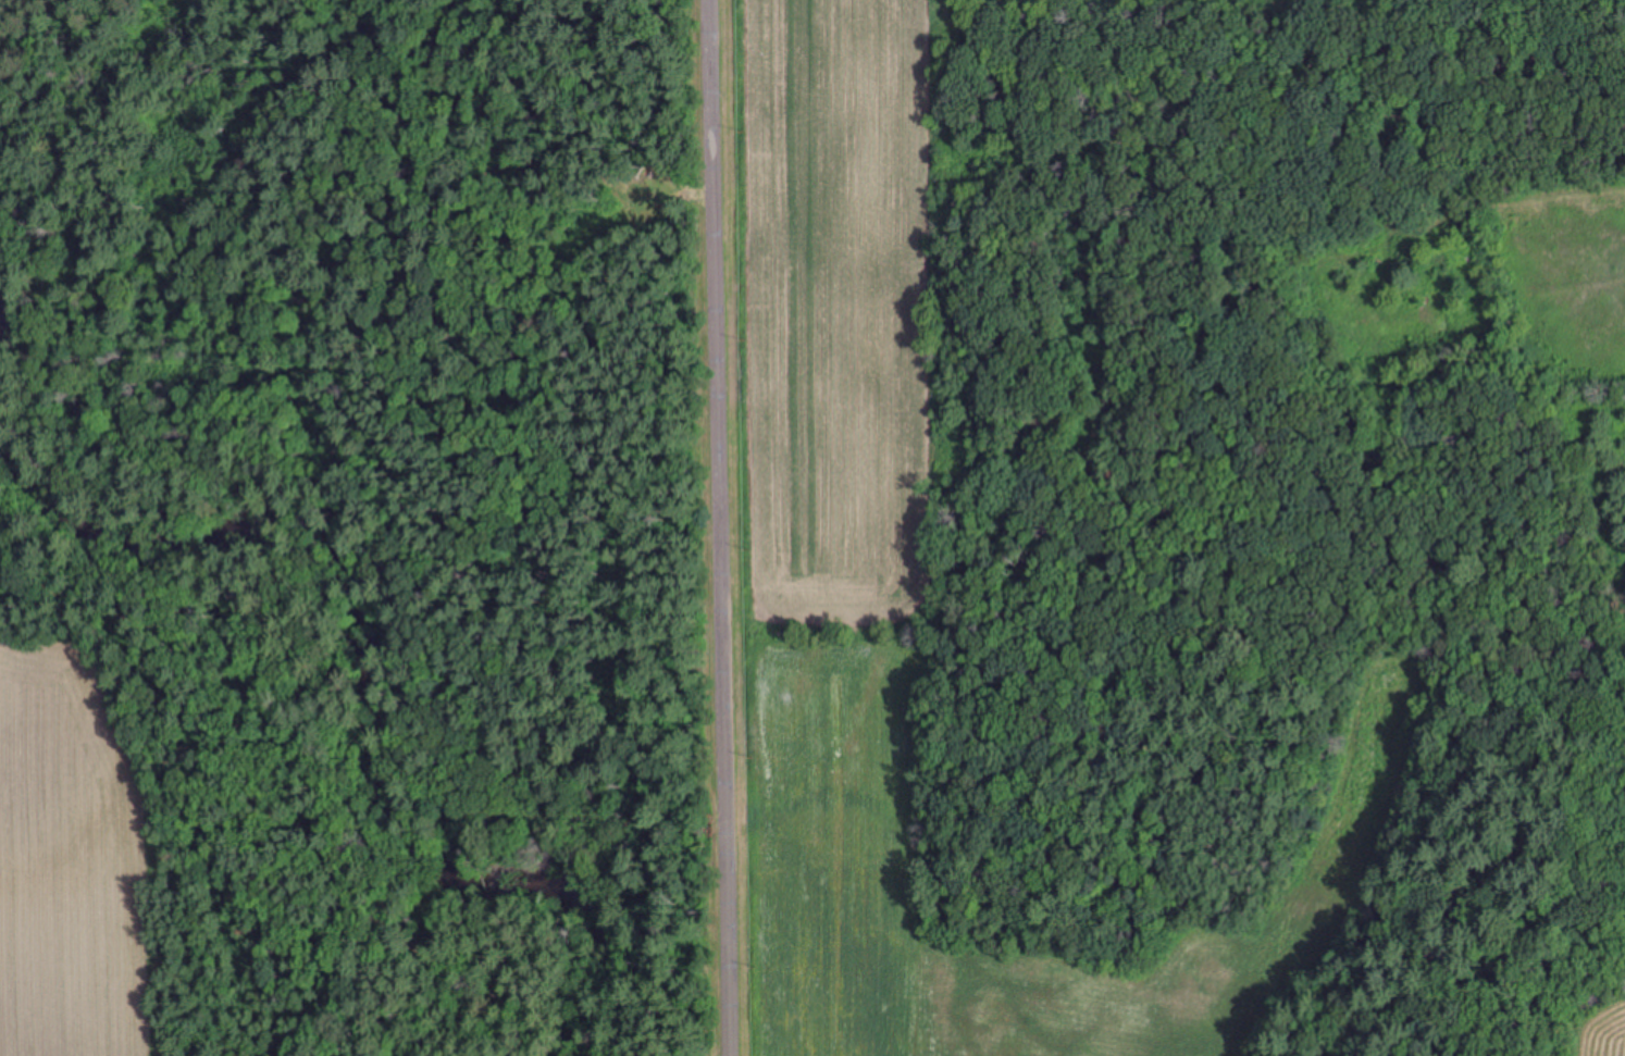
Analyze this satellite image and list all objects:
road: (739, 527)

